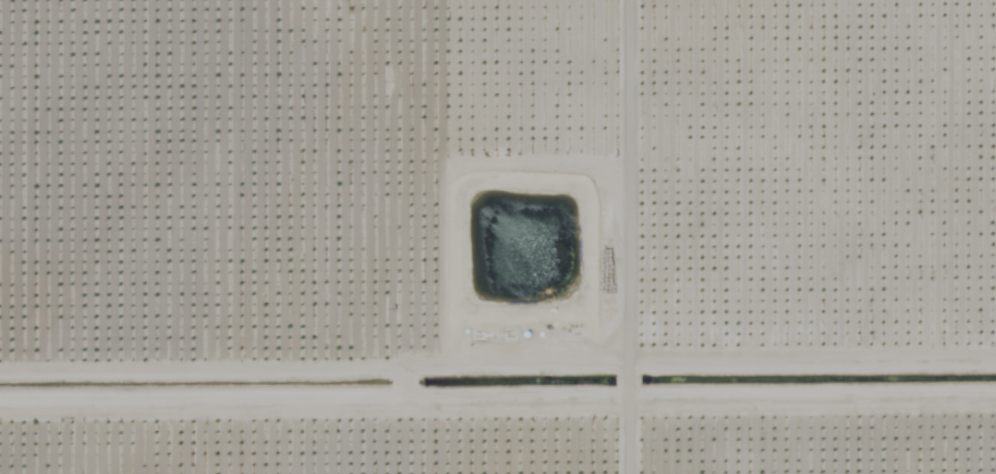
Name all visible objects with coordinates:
crop: (498, 237)
road: (498, 312)

